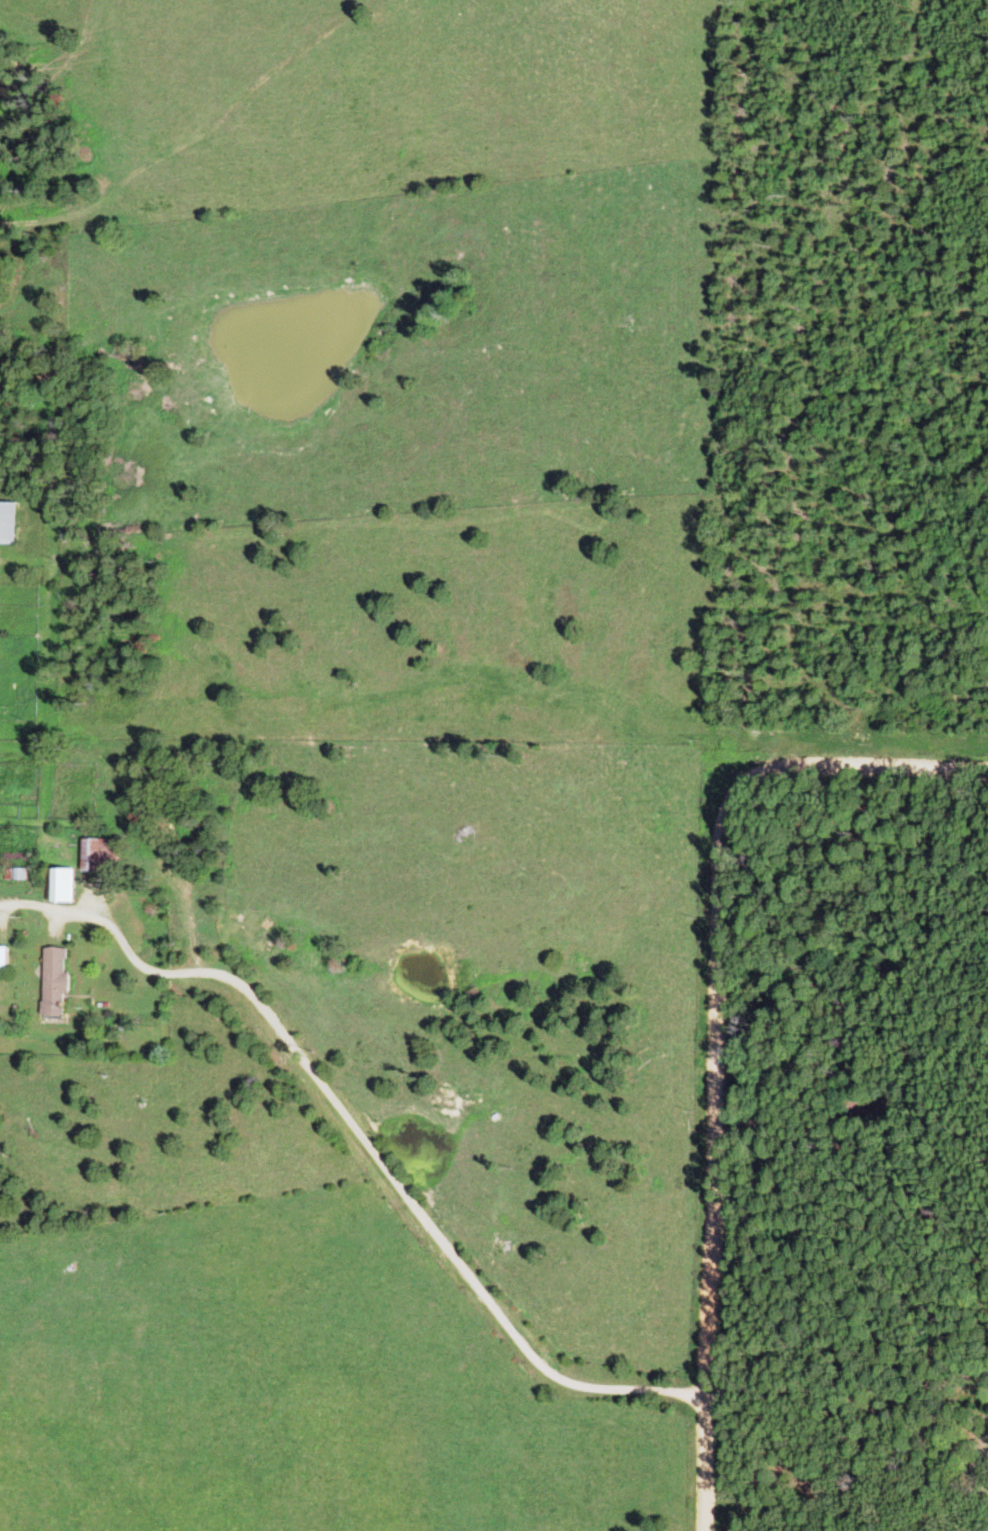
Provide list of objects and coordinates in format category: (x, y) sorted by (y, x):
building: (13, 523)
building: (2, 633)
building: (111, 854)
building: (74, 886)
building: (9, 958)
building: (67, 980)
road: (717, 1027)
road: (389, 1173)
road: (847, 1409)

